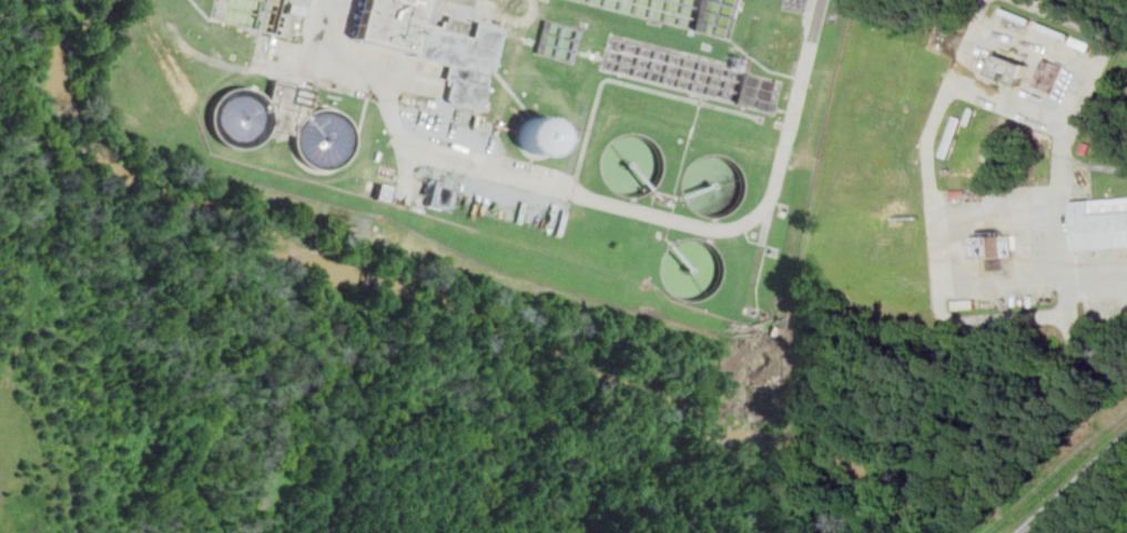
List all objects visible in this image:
building: (265, 16)
building: (389, 23)
road: (967, 42)
building: (463, 54)
building: (741, 62)
building: (1009, 70)
building: (1050, 75)
building: (286, 93)
road: (1082, 102)
building: (242, 117)
storage tank: (242, 117)
wastewater plant: (516, 129)
building: (953, 135)
building: (538, 136)
storage tank: (538, 136)
building: (325, 139)
storage tank: (325, 139)
building: (385, 193)
building: (440, 195)
road: (600, 199)
building: (1099, 224)
building: (998, 247)
road: (937, 258)
road: (1063, 303)
road: (1076, 485)

